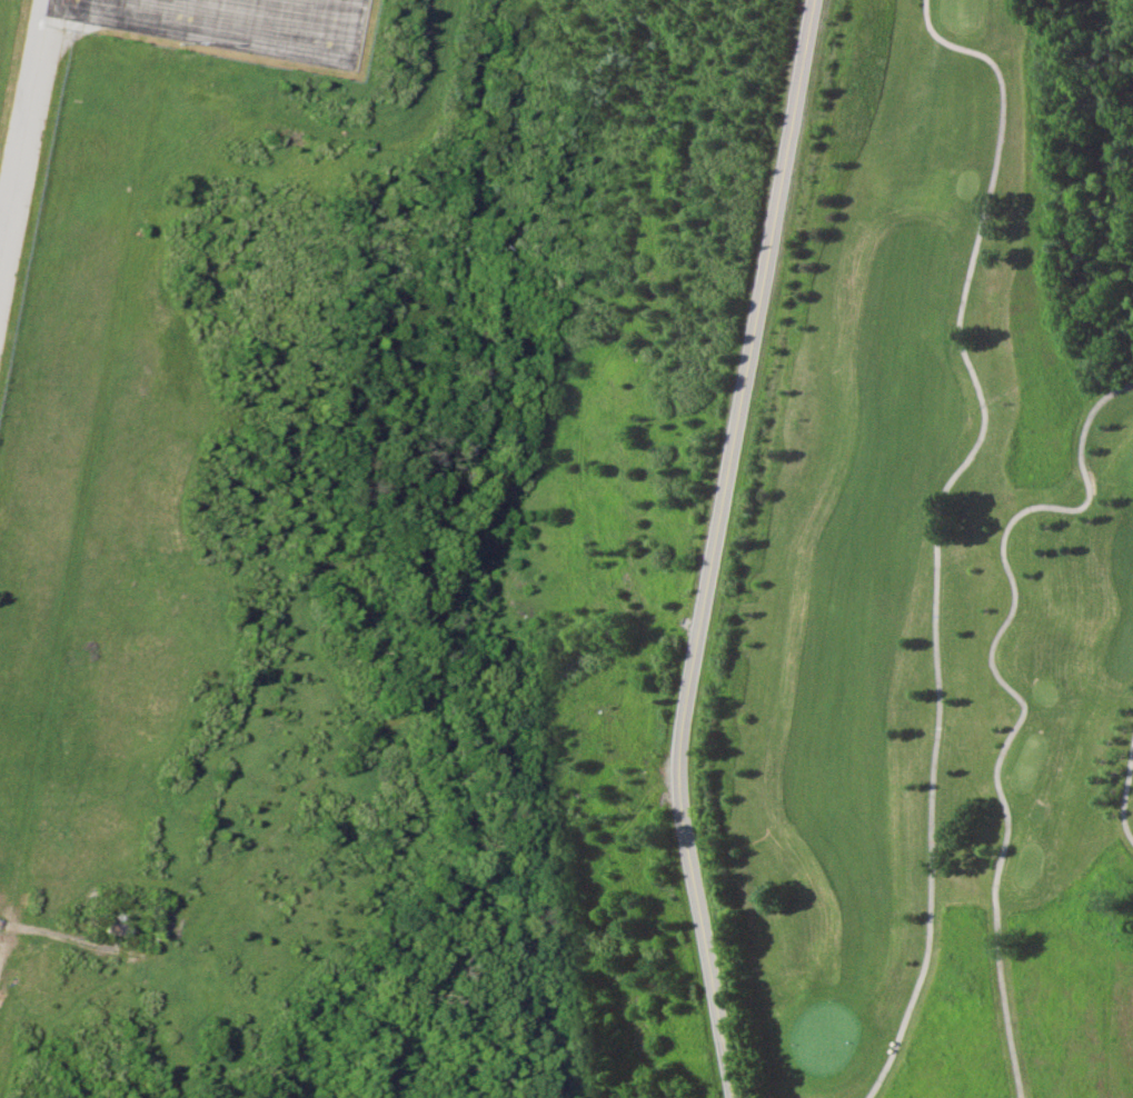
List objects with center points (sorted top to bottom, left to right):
road: (109, 347)
road: (720, 549)
park: (941, 573)

